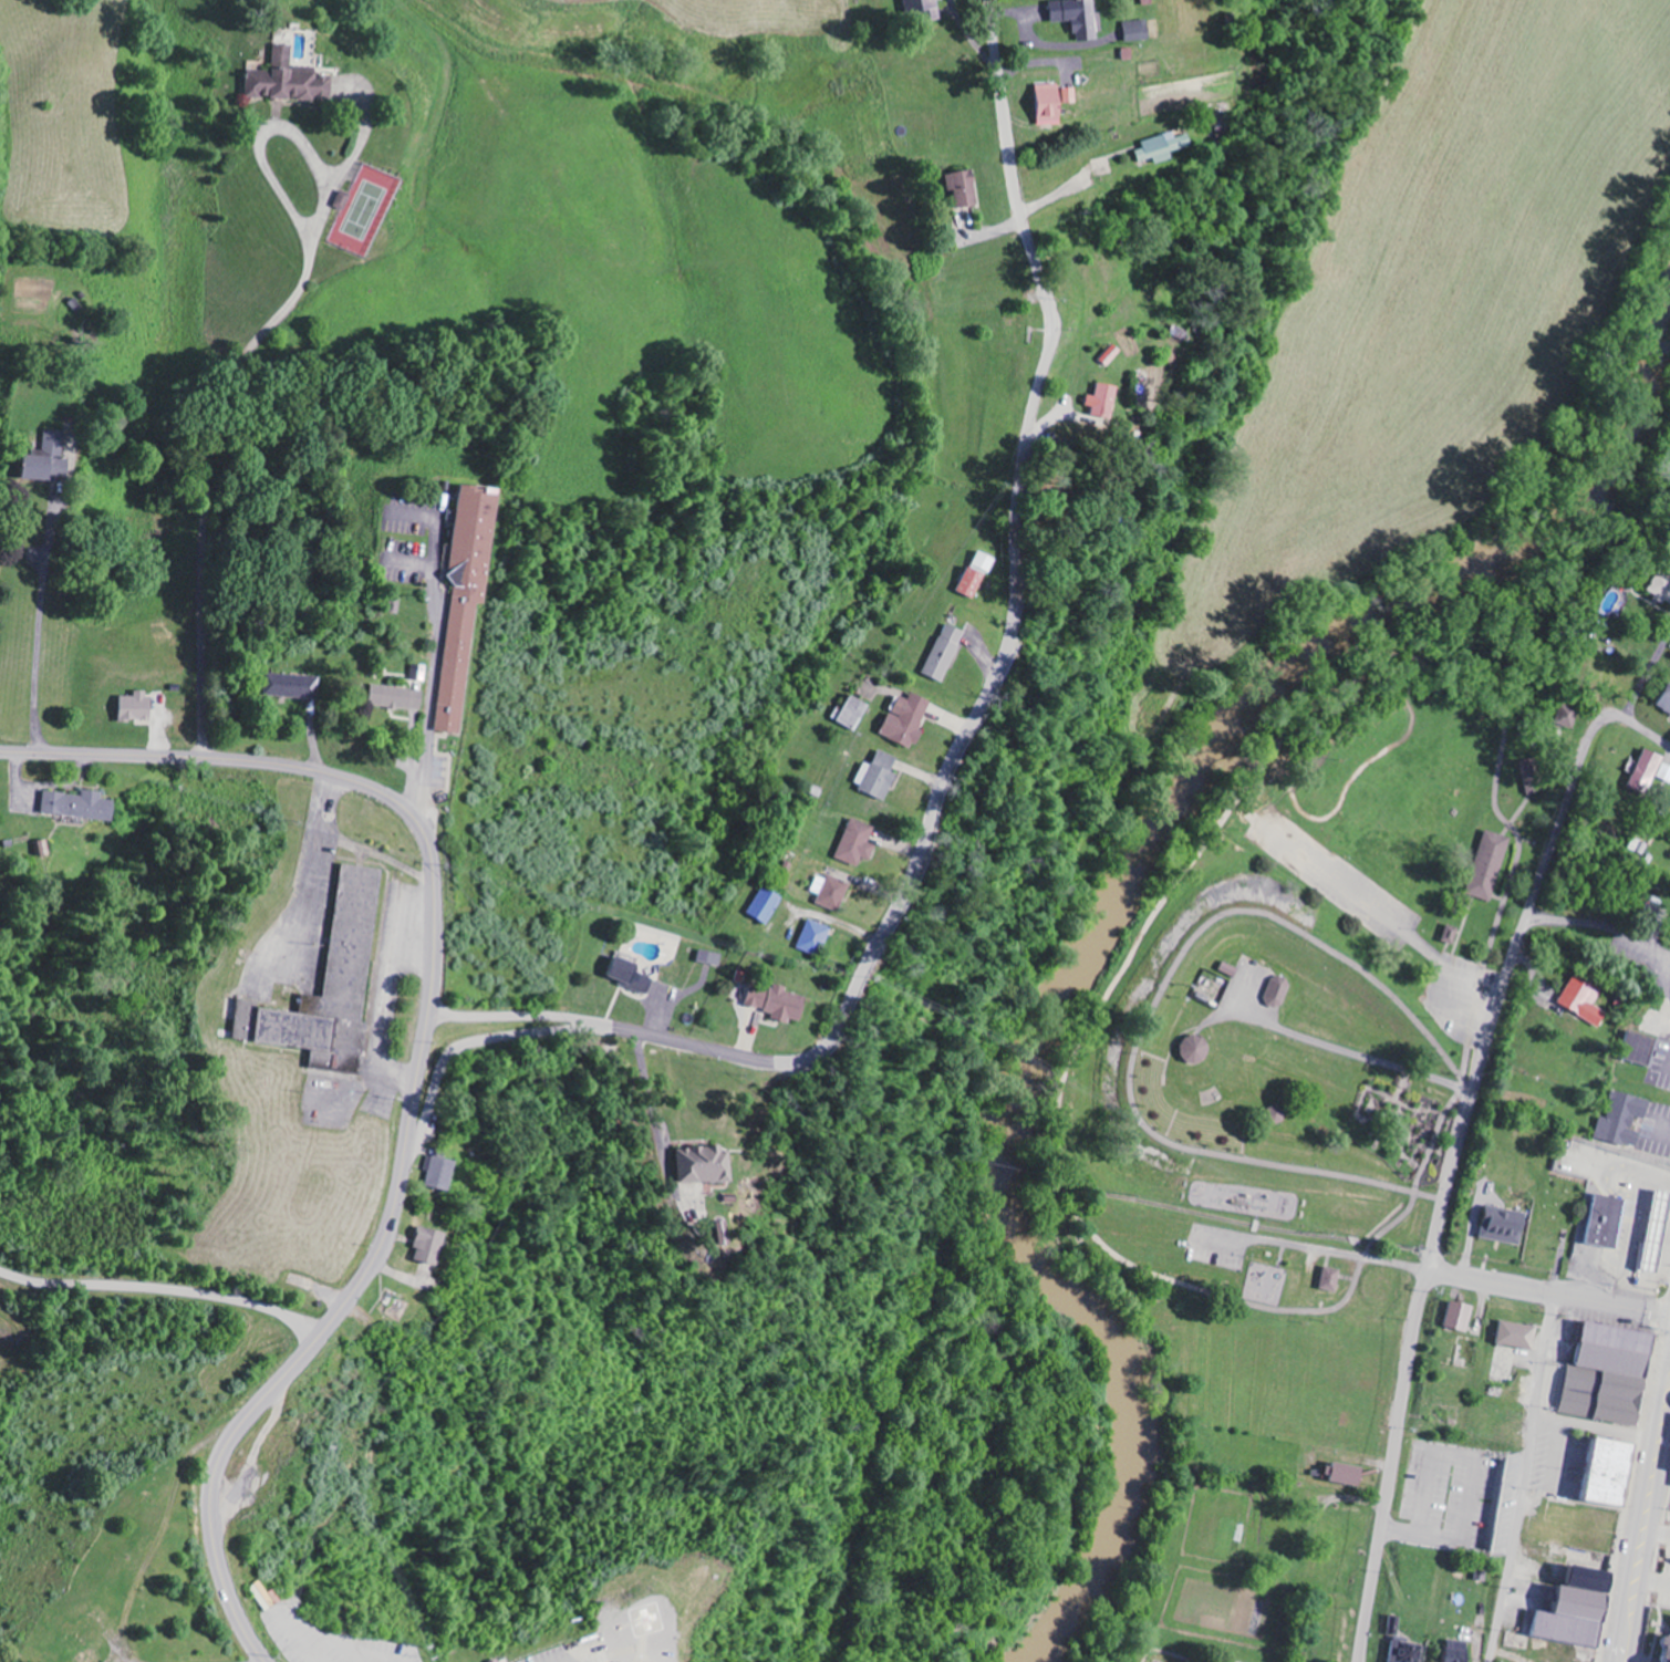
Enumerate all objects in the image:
building: (925, 8)
building: (1077, 18)
building: (1135, 32)
building: (289, 82)
building: (1055, 104)
building: (1164, 148)
building: (966, 189)
park: (363, 210)
road: (229, 389)
building: (1101, 401)
building: (49, 458)
building: (977, 574)
building: (1661, 586)
road: (39, 589)
building: (467, 601)
building: (943, 653)
road: (1647, 677)
building: (292, 686)
building: (400, 697)
building: (1667, 700)
building: (137, 706)
building: (852, 713)
building: (1570, 716)
building: (906, 719)
road: (1649, 730)
road: (964, 731)
building: (1646, 771)
building: (1664, 772)
building: (879, 775)
building: (1536, 776)
building: (82, 804)
building: (858, 843)
building: (1493, 865)
building: (833, 892)
building: (767, 905)
river: (1113, 905)
road: (1377, 906)
parking lot: (1381, 925)
building: (818, 938)
building: (713, 957)
building: (633, 975)
park: (1321, 985)
building: (331, 986)
building: (1282, 993)
building: (1585, 1000)
building: (779, 1003)
road: (484, 1039)
road: (1336, 1049)
building: (1199, 1050)
road: (418, 1061)
building: (1625, 1119)
building: (707, 1165)
road: (1451, 1167)
building: (442, 1173)
building: (1607, 1222)
building: (1505, 1225)
building: (723, 1233)
building: (431, 1245)
parking lot: (1216, 1248)
road: (1436, 1271)
building: (1335, 1279)
road: (163, 1290)
building: (1459, 1316)
building: (1517, 1336)
building: (1612, 1375)
road: (1595, 1426)
building: (1612, 1471)
building: (1350, 1474)
road: (1526, 1477)
road: (1642, 1508)
building: (1581, 1612)
helipad: (641, 1639)
building: (1668, 1641)
building: (1458, 1651)
building: (1409, 1652)
building: (1668, 1656)

